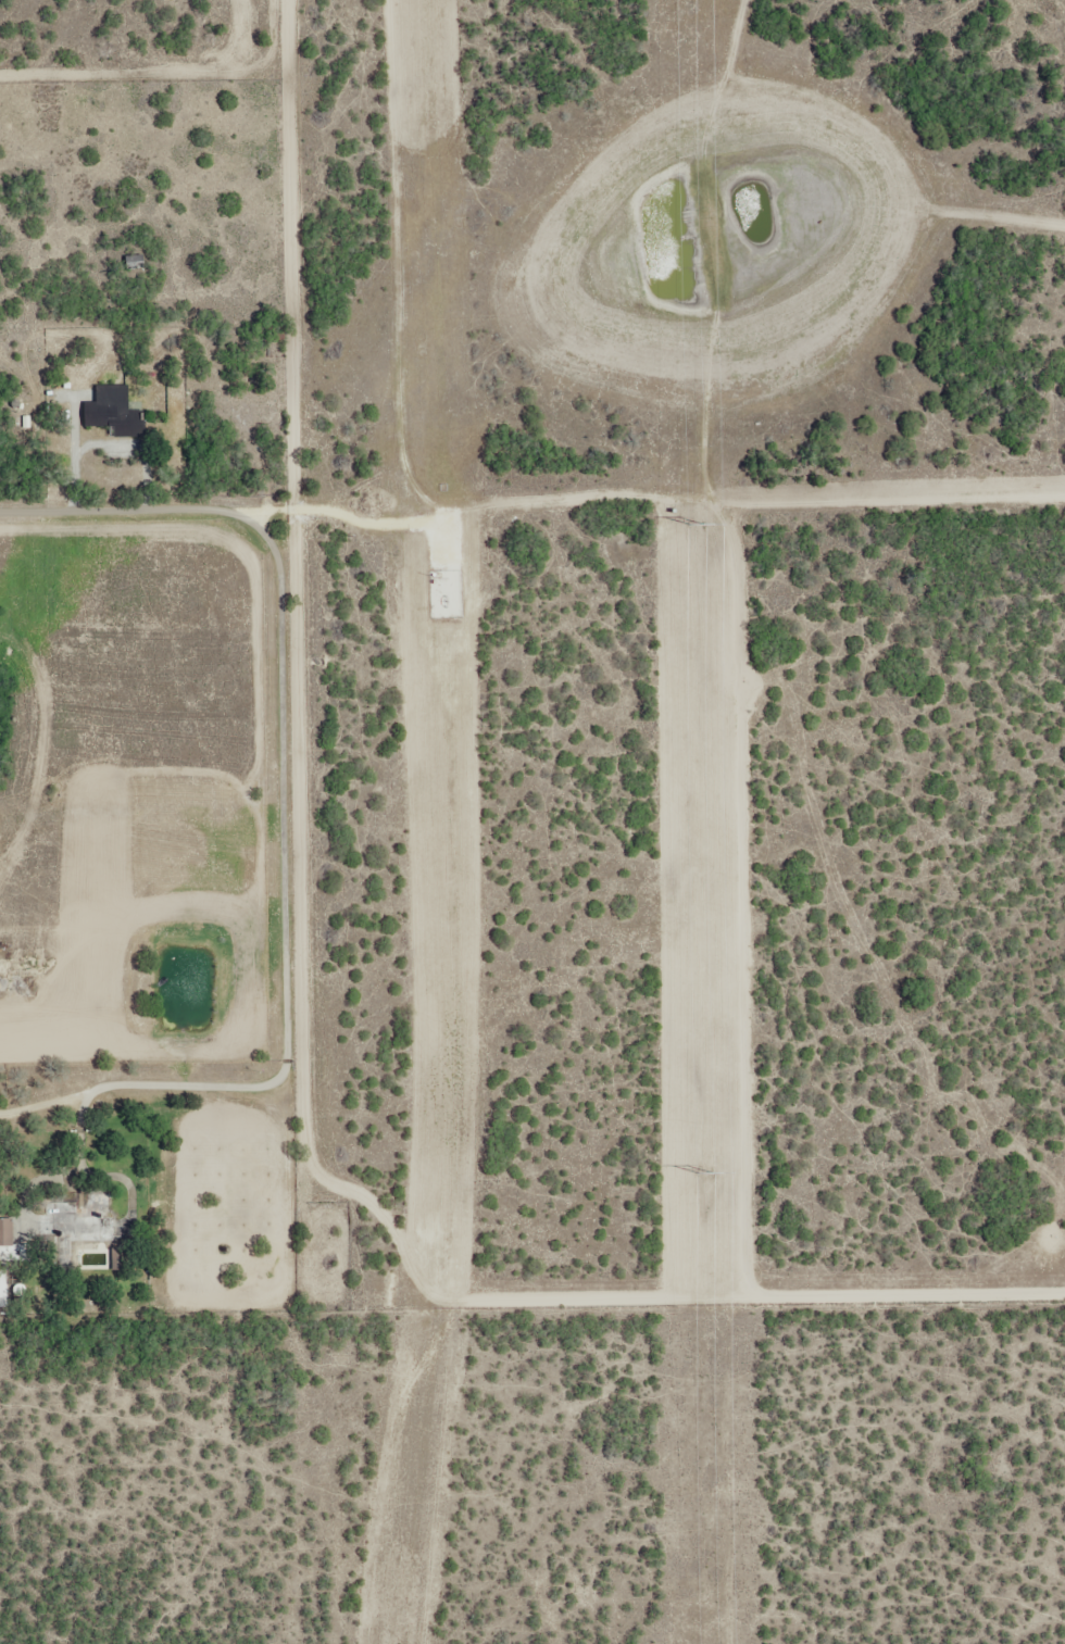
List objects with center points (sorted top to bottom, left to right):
road: (145, 509)
road: (305, 515)
power tower: (698, 523)
road: (673, 678)
road: (293, 758)
power tower: (707, 1172)
building: (79, 1221)
building: (7, 1231)

